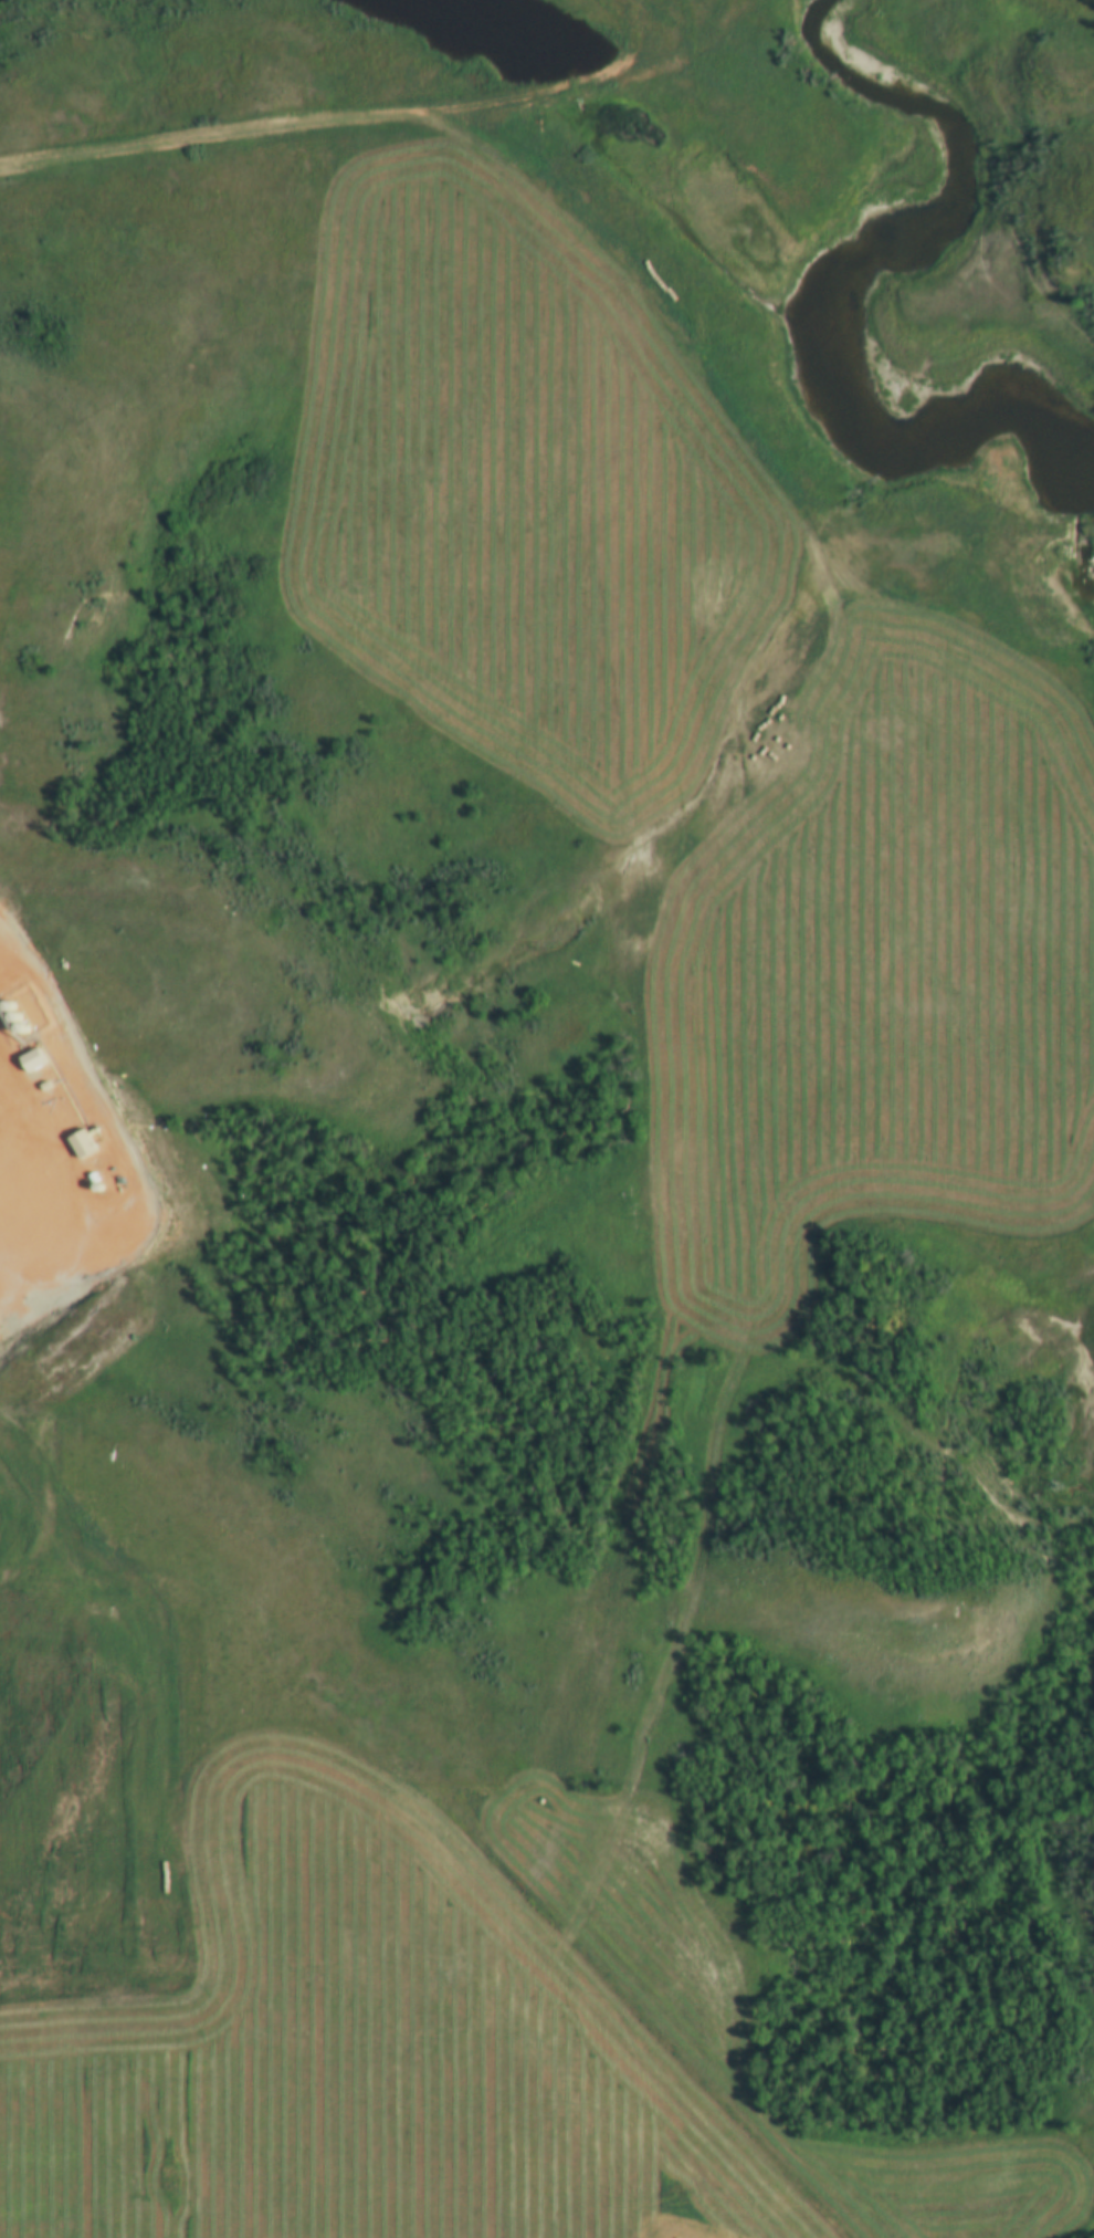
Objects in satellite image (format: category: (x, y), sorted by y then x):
road: (254, 134)
building: (32, 1062)
building: (81, 1144)
road: (31, 1153)
road: (3, 1600)
building: (4, 1875)

